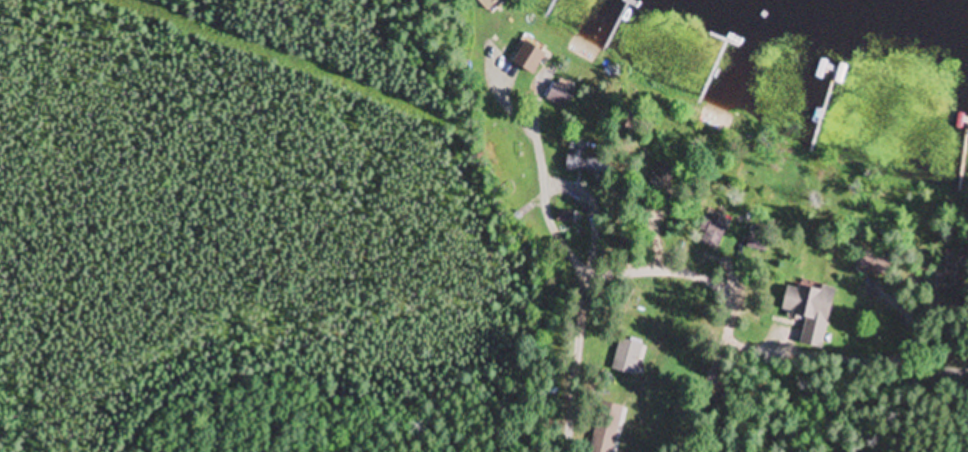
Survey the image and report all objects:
building: (488, 4)
building: (532, 53)
building: (561, 95)
building: (583, 163)
building: (659, 178)
building: (564, 218)
building: (713, 230)
building: (756, 241)
building: (871, 266)
building: (952, 275)
road: (653, 282)
building: (810, 310)
building: (626, 358)
building: (605, 428)

